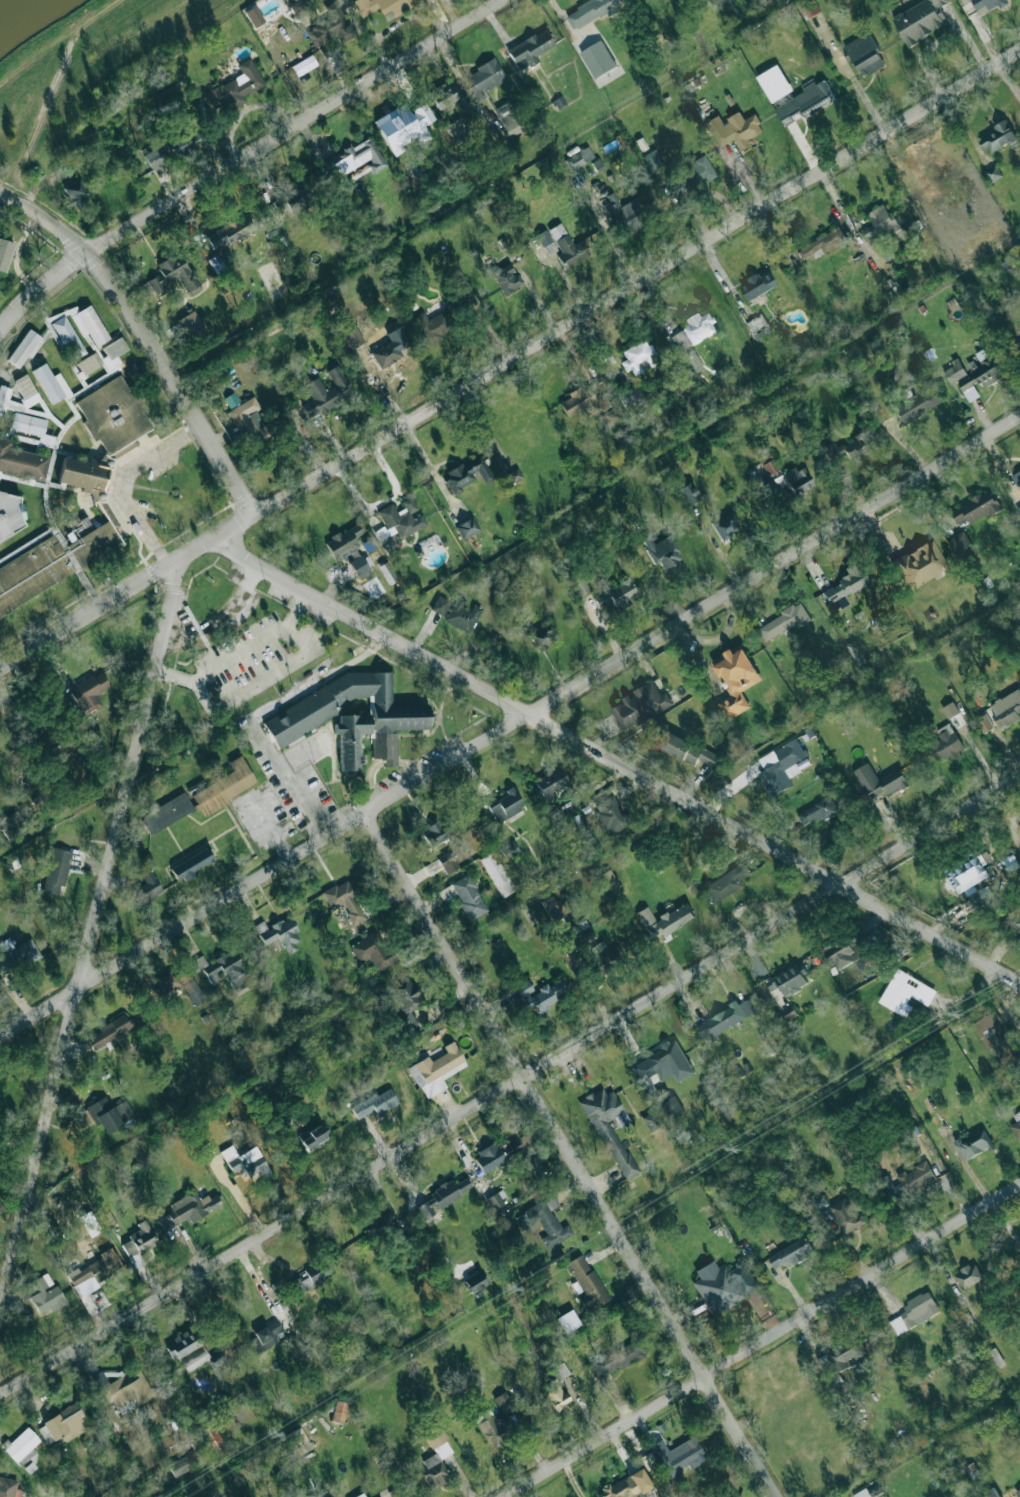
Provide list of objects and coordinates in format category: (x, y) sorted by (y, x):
building: (987, 3)
building: (380, 6)
building: (298, 8)
building: (590, 11)
river: (20, 12)
building: (921, 20)
building: (330, 26)
building: (530, 49)
building: (864, 54)
building: (598, 59)
building: (484, 77)
building: (774, 83)
building: (236, 87)
road: (860, 93)
building: (443, 96)
building: (805, 102)
road: (245, 110)
building: (422, 114)
building: (507, 120)
building: (397, 128)
building: (735, 129)
building: (456, 131)
building: (998, 137)
building: (186, 141)
road: (244, 156)
building: (155, 157)
building: (356, 158)
building: (579, 158)
building: (652, 159)
building: (692, 175)
building: (298, 192)
building: (75, 193)
road: (841, 208)
building: (625, 212)
building: (880, 224)
building: (230, 232)
building: (543, 237)
building: (822, 243)
building: (568, 246)
building: (4, 253)
building: (179, 271)
building: (506, 278)
building: (157, 283)
building: (757, 285)
building: (190, 324)
building: (432, 326)
building: (758, 326)
building: (698, 327)
building: (78, 328)
road: (146, 336)
building: (353, 336)
building: (1018, 343)
building: (802, 344)
building: (682, 346)
building: (24, 348)
building: (390, 348)
building: (113, 352)
building: (639, 357)
road: (510, 359)
building: (89, 363)
building: (954, 372)
building: (980, 375)
building: (51, 383)
building: (326, 392)
building: (24, 393)
building: (632, 396)
building: (3, 398)
building: (580, 401)
building: (916, 403)
building: (248, 420)
building: (28, 424)
building: (46, 440)
building: (770, 467)
building: (467, 474)
building: (514, 474)
building: (1017, 478)
building: (797, 479)
road: (122, 481)
road: (147, 488)
building: (688, 493)
building: (98, 499)
building: (976, 507)
building: (1018, 509)
building: (10, 515)
building: (402, 517)
building: (725, 526)
building: (466, 527)
building: (343, 541)
building: (387, 544)
building: (961, 544)
building: (663, 553)
building: (919, 564)
building: (361, 567)
building: (579, 583)
building: (845, 586)
building: (618, 593)
road: (237, 602)
building: (456, 612)
building: (784, 621)
building: (543, 636)
road: (241, 651)
building: (855, 653)
building: (735, 679)
building: (89, 692)
building: (640, 706)
building: (1007, 708)
building: (950, 710)
building: (300, 716)
road: (253, 717)
building: (984, 723)
road: (510, 727)
building: (350, 737)
building: (945, 743)
building: (686, 749)
road: (617, 761)
road: (390, 763)
building: (781, 766)
road: (416, 767)
building: (879, 781)
road: (371, 782)
building: (551, 783)
building: (224, 786)
building: (504, 805)
building: (817, 811)
building: (167, 813)
building: (610, 814)
building: (13, 826)
road: (274, 828)
building: (436, 833)
building: (509, 850)
building: (443, 863)
building: (192, 864)
building: (56, 870)
building: (497, 874)
building: (964, 876)
building: (609, 879)
building: (727, 882)
building: (147, 887)
building: (469, 897)
building: (345, 900)
building: (551, 908)
building: (665, 919)
building: (1019, 926)
building: (584, 932)
building: (278, 933)
road: (90, 935)
building: (372, 950)
building: (845, 952)
building: (16, 954)
building: (603, 958)
building: (221, 969)
building: (180, 984)
building: (787, 987)
building: (406, 995)
building: (539, 996)
power tower: (959, 1014)
building: (725, 1019)
building: (405, 1025)
building: (111, 1033)
building: (994, 1036)
building: (664, 1063)
building: (436, 1070)
road: (509, 1084)
building: (668, 1102)
building: (376, 1103)
building: (109, 1113)
building: (650, 1120)
building: (608, 1128)
building: (1016, 1129)
building: (313, 1137)
building: (973, 1144)
power tower: (738, 1149)
building: (496, 1153)
road: (571, 1156)
building: (247, 1164)
building: (908, 1180)
building: (442, 1196)
building: (493, 1201)
building: (189, 1207)
building: (846, 1215)
building: (548, 1221)
building: (378, 1223)
building: (1019, 1234)
building: (139, 1239)
building: (790, 1253)
building: (95, 1271)
building: (311, 1275)
building: (968, 1275)
building: (474, 1282)
building: (587, 1282)
building: (723, 1284)
power tower: (506, 1289)
building: (45, 1294)
building: (915, 1312)
building: (265, 1336)
road: (764, 1341)
building: (192, 1351)
building: (996, 1357)
building: (619, 1358)
building: (840, 1364)
building: (126, 1389)
building: (555, 1395)
building: (503, 1402)
building: (338, 1411)
building: (61, 1424)
power tower: (267, 1431)
building: (211, 1438)
building: (300, 1441)
building: (685, 1456)
building: (434, 1457)
building: (649, 1461)
building: (178, 1466)
building: (627, 1485)
building: (8, 1487)
building: (869, 1492)
building: (992, 1492)
building: (1018, 1493)

